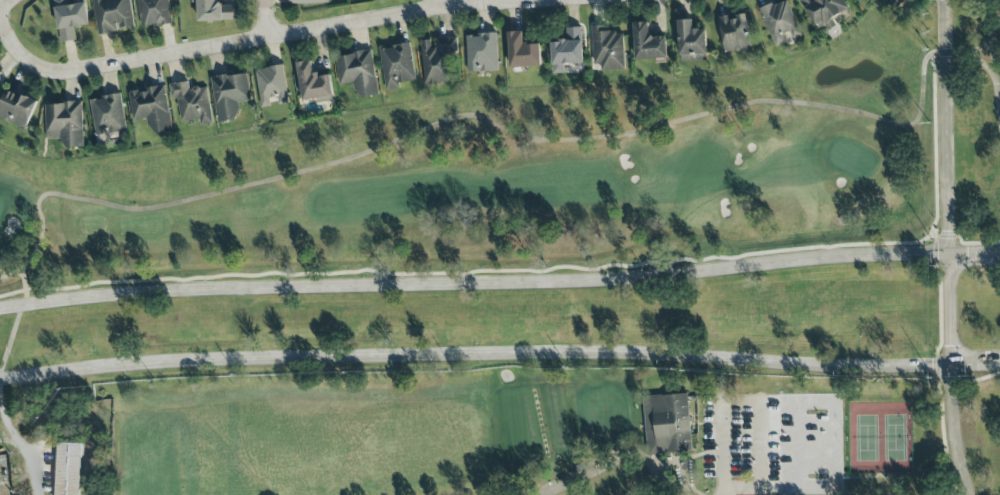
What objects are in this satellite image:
building: (308, 1)
road: (5, 3)
road: (437, 4)
building: (214, 11)
building: (824, 11)
building: (154, 13)
building: (113, 15)
building: (71, 18)
road: (266, 19)
building: (780, 22)
building: (735, 33)
road: (248, 41)
building: (692, 42)
building: (648, 43)
building: (608, 49)
building: (523, 52)
building: (569, 52)
building: (482, 53)
building: (439, 60)
building: (397, 65)
building: (358, 73)
building: (314, 84)
building: (272, 85)
building: (230, 95)
building: (192, 102)
building: (152, 108)
building: (17, 109)
building: (108, 115)
building: (65, 123)
park: (553, 183)
road: (948, 248)
road: (974, 253)
road: (474, 286)
road: (490, 357)
road: (990, 363)
road: (758, 403)
building: (667, 424)
park: (538, 436)
park: (880, 437)
road: (21, 445)
building: (68, 469)
road: (588, 475)
road: (721, 492)

